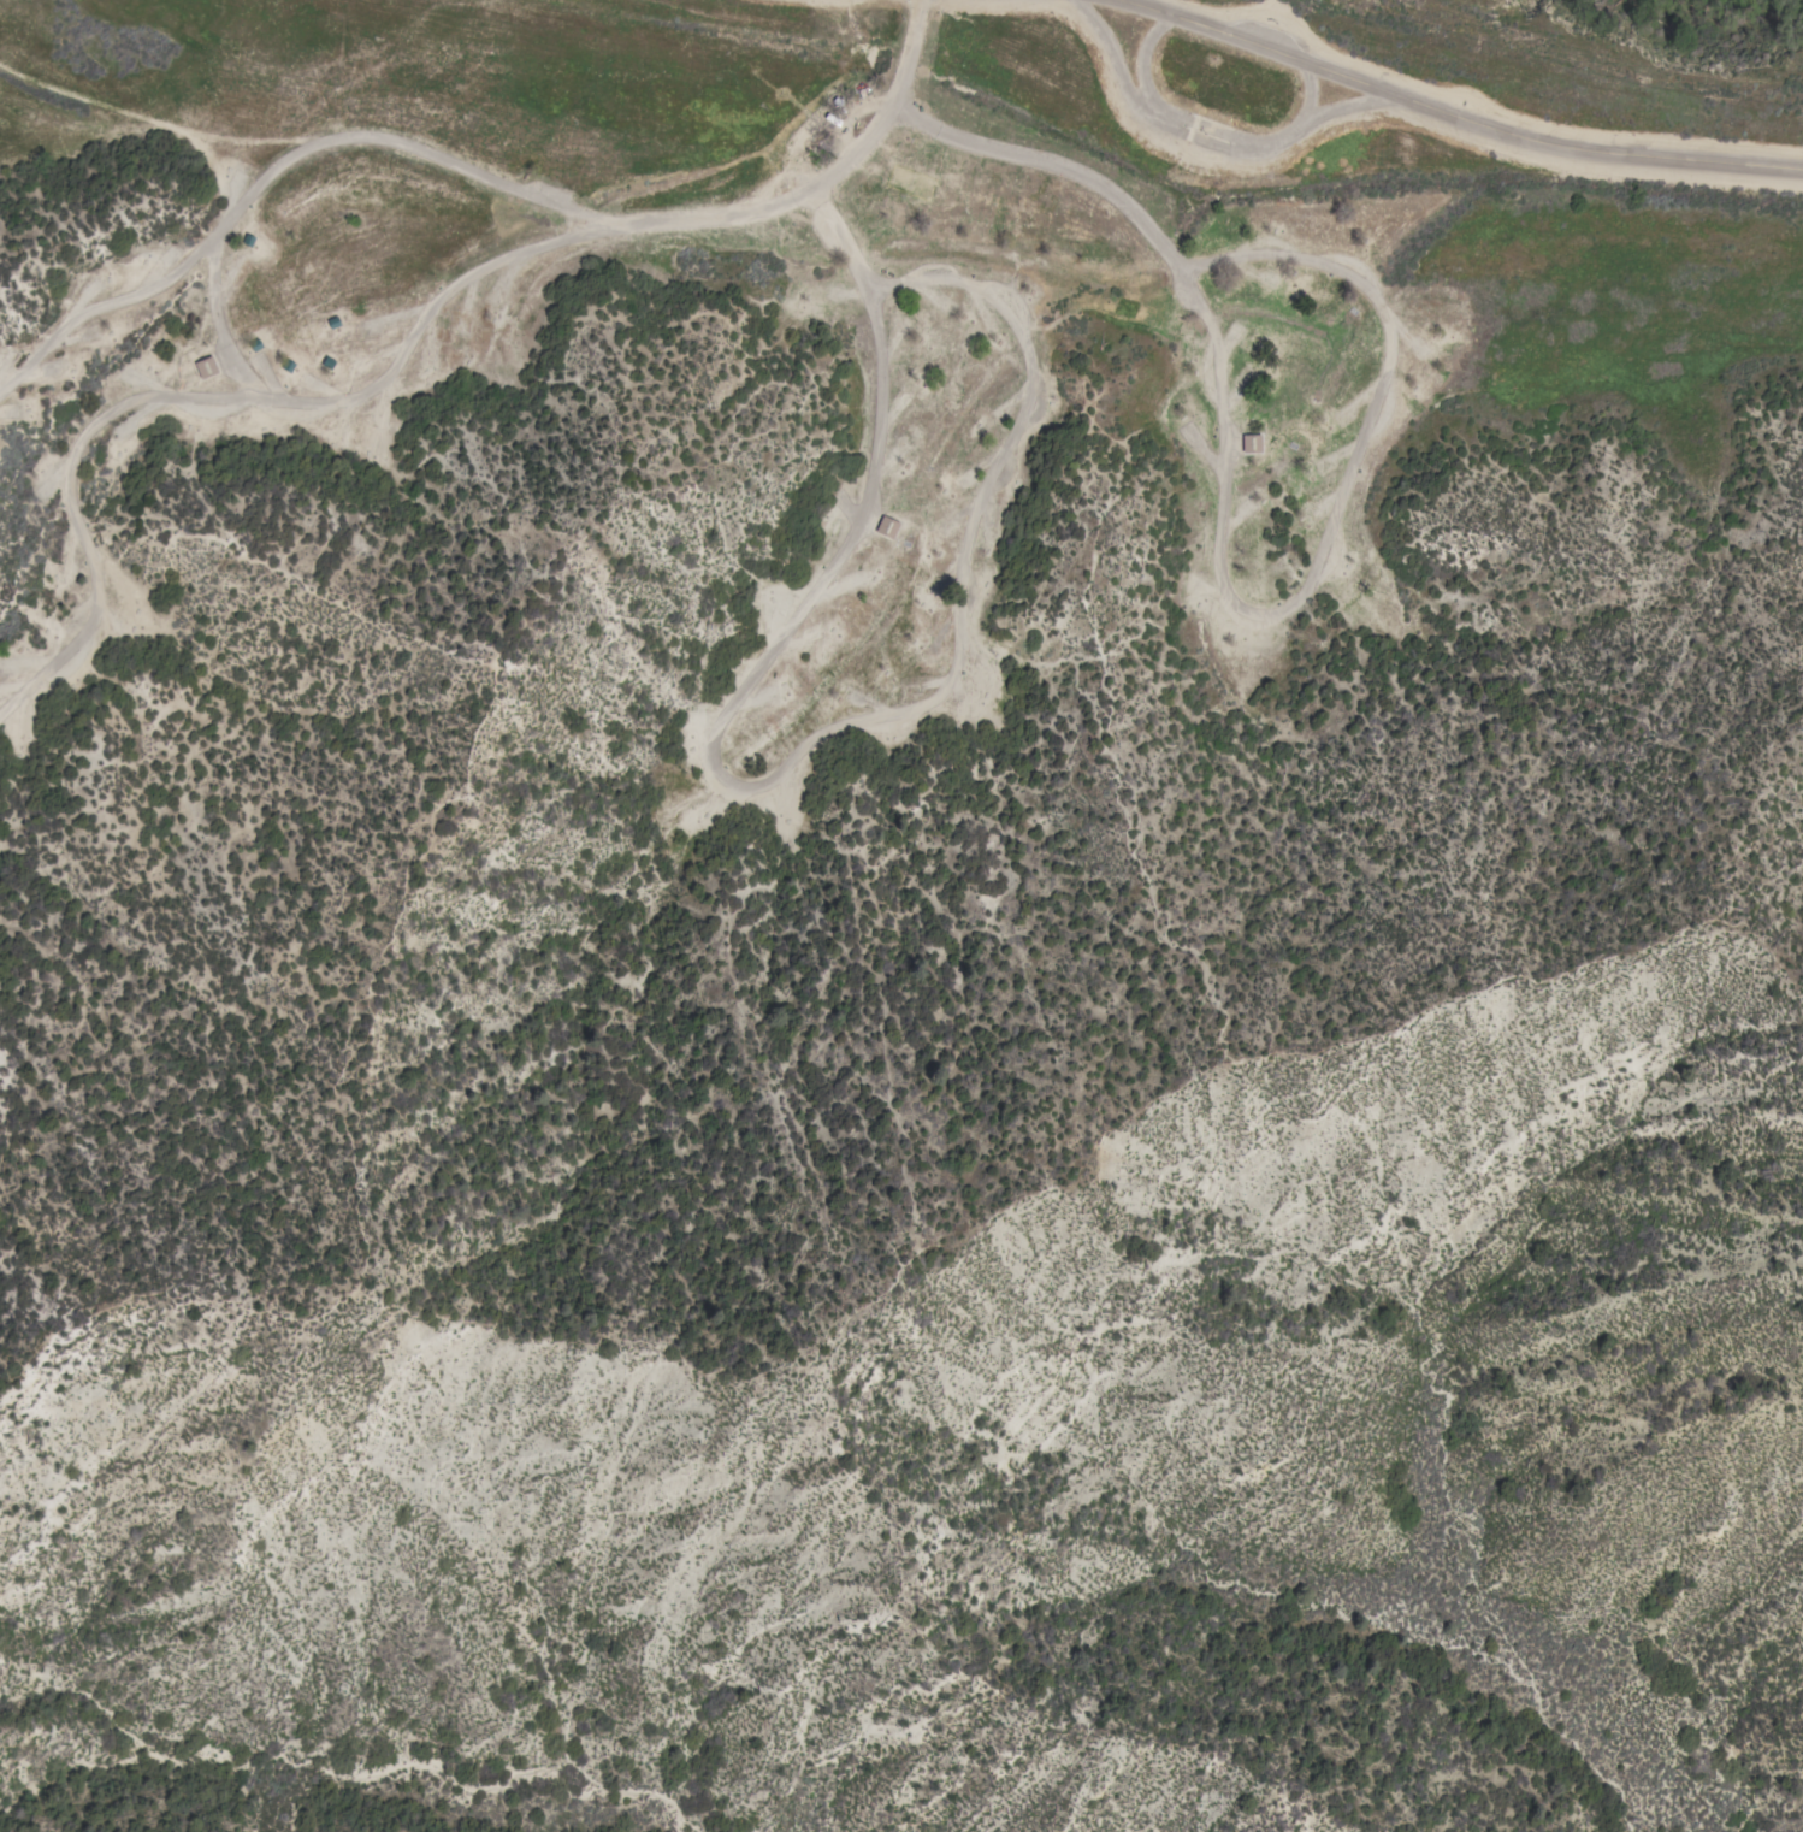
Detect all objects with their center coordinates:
road: (1450, 116)
road: (134, 122)
building: (832, 122)
road: (821, 182)
road: (514, 258)
road: (218, 319)
building: (205, 367)
road: (1381, 388)
building: (1251, 443)
building: (886, 527)
road: (781, 769)

